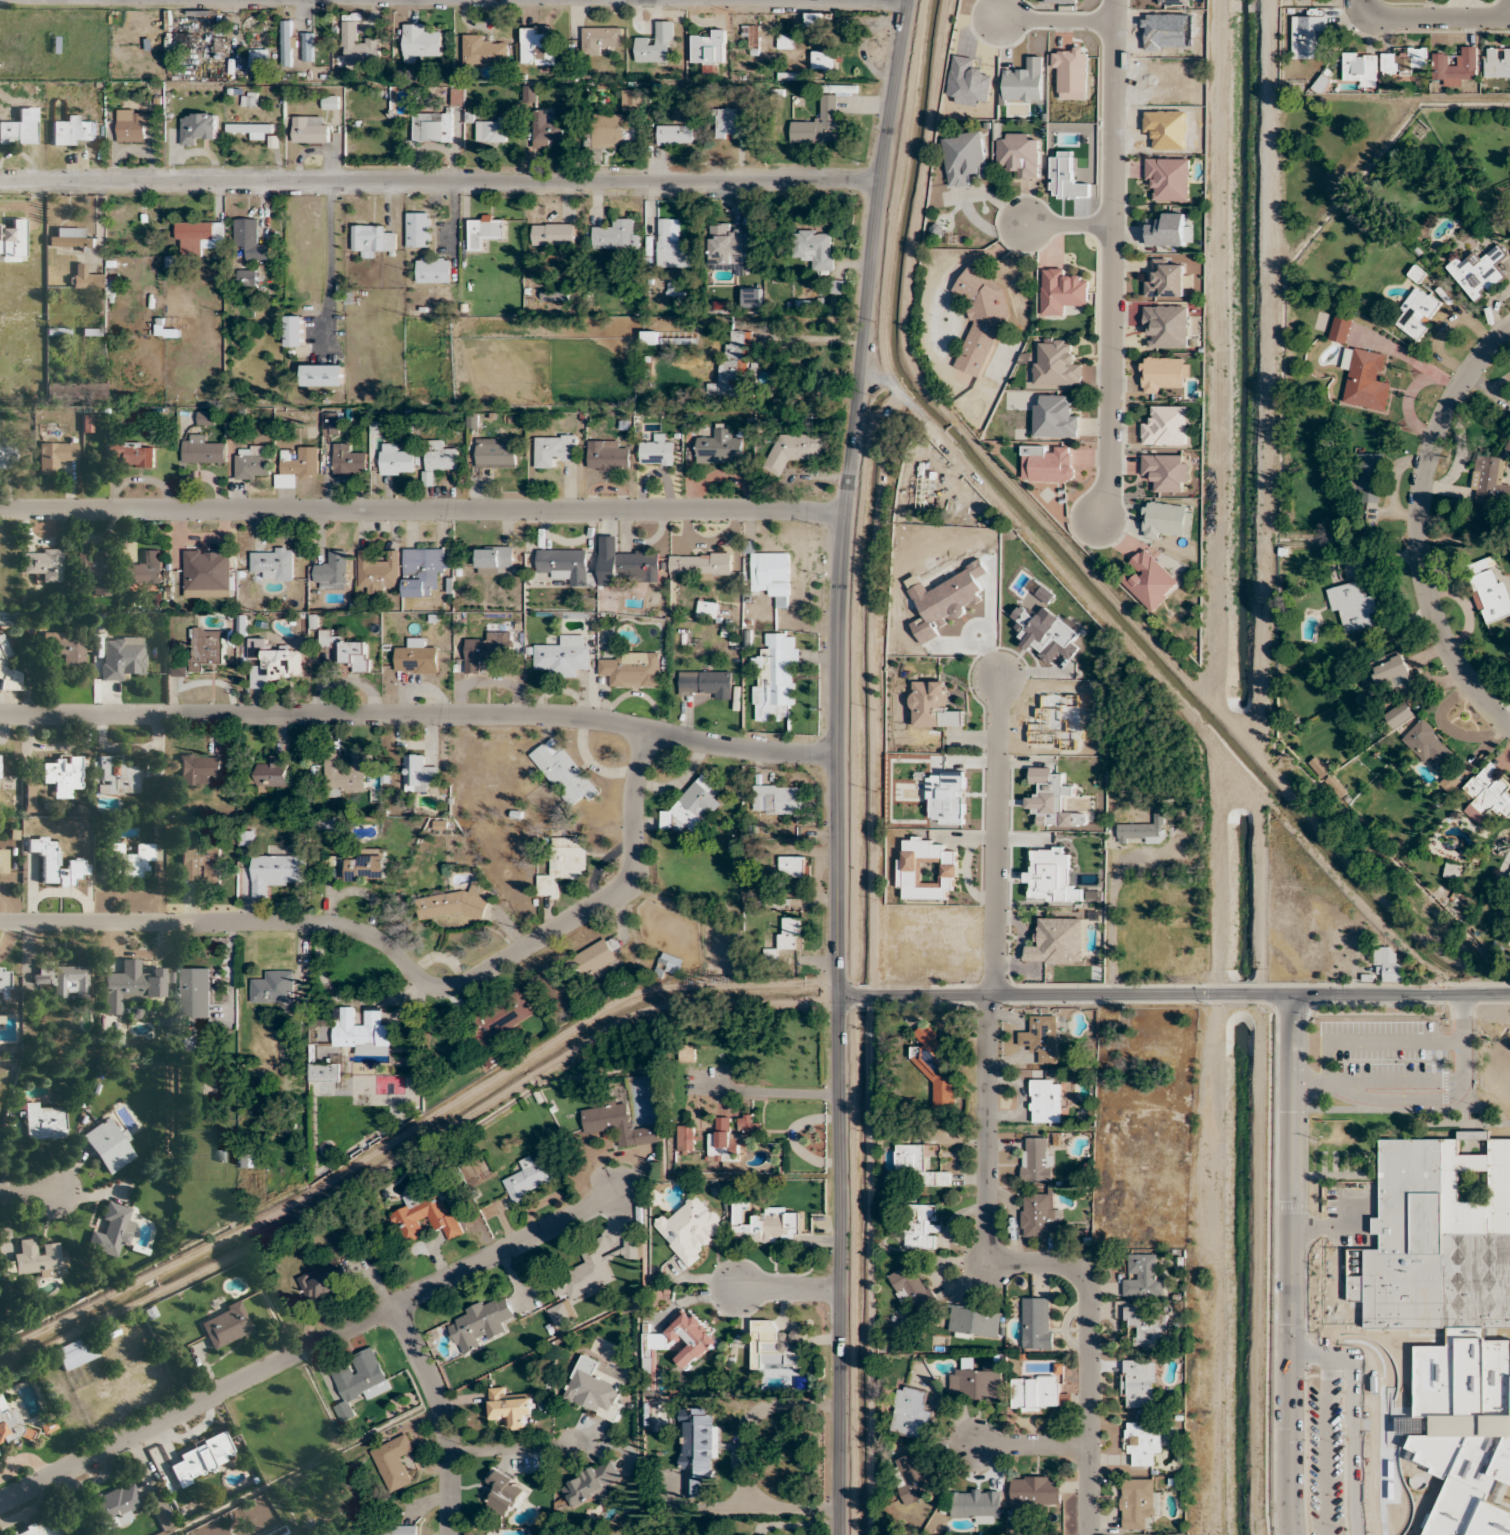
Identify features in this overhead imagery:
road: (774, 0)
road: (1060, 17)
road: (1433, 18)
building: (818, 19)
building: (1310, 37)
building: (752, 38)
building: (599, 39)
building: (785, 41)
building: (287, 42)
building: (419, 43)
building: (656, 44)
building: (359, 46)
building: (538, 46)
building: (308, 47)
building: (709, 48)
building: (485, 52)
building: (259, 59)
building: (823, 61)
building: (1403, 61)
building: (1497, 62)
building: (1456, 66)
building: (1359, 69)
building: (1071, 73)
building: (529, 93)
building: (248, 99)
building: (631, 99)
building: (330, 102)
building: (725, 123)
building: (818, 123)
building: (134, 124)
building: (197, 126)
building: (432, 127)
building: (19, 128)
building: (251, 129)
building: (309, 129)
building: (545, 130)
building: (72, 131)
building: (610, 131)
building: (491, 132)
building: (674, 134)
building: (1018, 153)
building: (963, 157)
building: (1169, 178)
road: (439, 182)
road: (1069, 222)
building: (418, 229)
building: (1167, 230)
building: (484, 231)
building: (553, 234)
building: (617, 236)
building: (198, 237)
building: (70, 240)
building: (12, 241)
building: (374, 241)
building: (671, 245)
building: (726, 245)
building: (814, 248)
building: (249, 249)
road: (1113, 258)
road: (333, 262)
building: (433, 269)
building: (1478, 272)
building: (1417, 274)
building: (86, 277)
building: (1167, 279)
building: (1061, 291)
building: (1417, 313)
building: (981, 319)
building: (1166, 326)
building: (1340, 329)
building: (165, 330)
building: (294, 330)
building: (92, 332)
building: (650, 337)
road: (812, 337)
building: (680, 341)
building: (1056, 365)
building: (733, 367)
building: (1162, 373)
building: (322, 375)
building: (1367, 380)
building: (206, 418)
building: (1054, 418)
building: (332, 423)
building: (1166, 426)
building: (1508, 445)
building: (719, 447)
building: (553, 449)
building: (793, 449)
building: (201, 450)
building: (656, 450)
building: (5, 453)
building: (131, 454)
building: (496, 454)
building: (55, 456)
building: (607, 456)
building: (438, 459)
building: (348, 460)
building: (395, 460)
building: (252, 462)
building: (296, 465)
building: (1048, 466)
building: (1367, 476)
building: (1489, 480)
road: (423, 508)
building: (1167, 519)
road: (1418, 528)
road: (1071, 548)
road: (1039, 549)
building: (494, 559)
building: (273, 562)
building: (43, 563)
building: (699, 563)
building: (626, 564)
building: (565, 566)
building: (142, 569)
building: (332, 571)
building: (422, 571)
building: (91, 572)
building: (378, 572)
building: (208, 573)
building: (773, 575)
building: (1149, 580)
building: (1489, 591)
building: (1353, 606)
building: (707, 609)
building: (326, 638)
building: (64, 648)
building: (206, 649)
building: (486, 650)
building: (354, 655)
building: (121, 656)
building: (563, 656)
building: (416, 657)
building: (276, 660)
building: (1, 664)
building: (632, 669)
building: (1394, 673)
building: (775, 675)
building: (705, 684)
building: (932, 706)
road: (420, 714)
building: (1399, 715)
building: (1428, 744)
road: (837, 765)
building: (1318, 767)
building: (198, 769)
building: (273, 772)
building: (347, 772)
building: (563, 772)
building: (418, 773)
building: (62, 776)
building: (118, 778)
building: (1450, 782)
building: (1486, 795)
building: (28, 798)
building: (777, 800)
building: (692, 805)
building: (1142, 831)
road: (995, 835)
building: (246, 838)
building: (124, 859)
building: (3, 861)
building: (198, 861)
building: (562, 863)
building: (55, 864)
building: (792, 866)
building: (366, 867)
building: (926, 870)
building: (1451, 870)
building: (276, 872)
road: (599, 902)
building: (451, 904)
road: (1110, 914)
road: (227, 922)
building: (789, 933)
building: (1056, 942)
building: (597, 957)
building: (667, 964)
building: (1391, 966)
building: (62, 979)
building: (4, 981)
building: (130, 986)
building: (273, 987)
building: (194, 992)
road: (1173, 995)
building: (499, 1017)
road: (1487, 1021)
building: (363, 1032)
building: (1042, 1038)
road: (1373, 1039)
parking lot: (1381, 1048)
building: (687, 1053)
building: (933, 1067)
building: (325, 1072)
road: (1399, 1077)
road: (769, 1091)
road: (1423, 1097)
building: (1046, 1102)
building: (43, 1122)
building: (618, 1124)
building: (732, 1135)
building: (686, 1138)
building: (108, 1146)
building: (1037, 1159)
building: (917, 1168)
building: (529, 1179)
road: (27, 1193)
building: (426, 1216)
building: (1040, 1216)
building: (764, 1225)
building: (921, 1227)
road: (1325, 1227)
building: (691, 1229)
building: (111, 1231)
building: (1437, 1239)
building: (633, 1249)
building: (37, 1259)
road: (1037, 1262)
road: (1293, 1265)
building: (1142, 1276)
building: (318, 1283)
building: (580, 1283)
building: (912, 1288)
road: (784, 1289)
building: (974, 1322)
building: (480, 1323)
building: (1037, 1323)
building: (225, 1326)
building: (1145, 1327)
building: (680, 1341)
building: (776, 1347)
road: (309, 1349)
building: (75, 1353)
building: (358, 1381)
building: (1138, 1383)
building: (976, 1384)
building: (594, 1390)
building: (1036, 1394)
building: (1438, 1401)
building: (510, 1407)
road: (1373, 1409)
building: (910, 1412)
road: (442, 1416)
building: (10, 1425)
building: (45, 1427)
building: (1143, 1442)
road: (1032, 1444)
road: (1324, 1444)
road: (1352, 1444)
building: (697, 1452)
parking lot: (1326, 1458)
building: (201, 1459)
building: (394, 1463)
building: (916, 1477)
building: (590, 1484)
building: (1035, 1491)
building: (505, 1494)
building: (1136, 1503)
building: (113, 1506)
building: (975, 1506)
building: (38, 1528)
building: (392, 1530)

